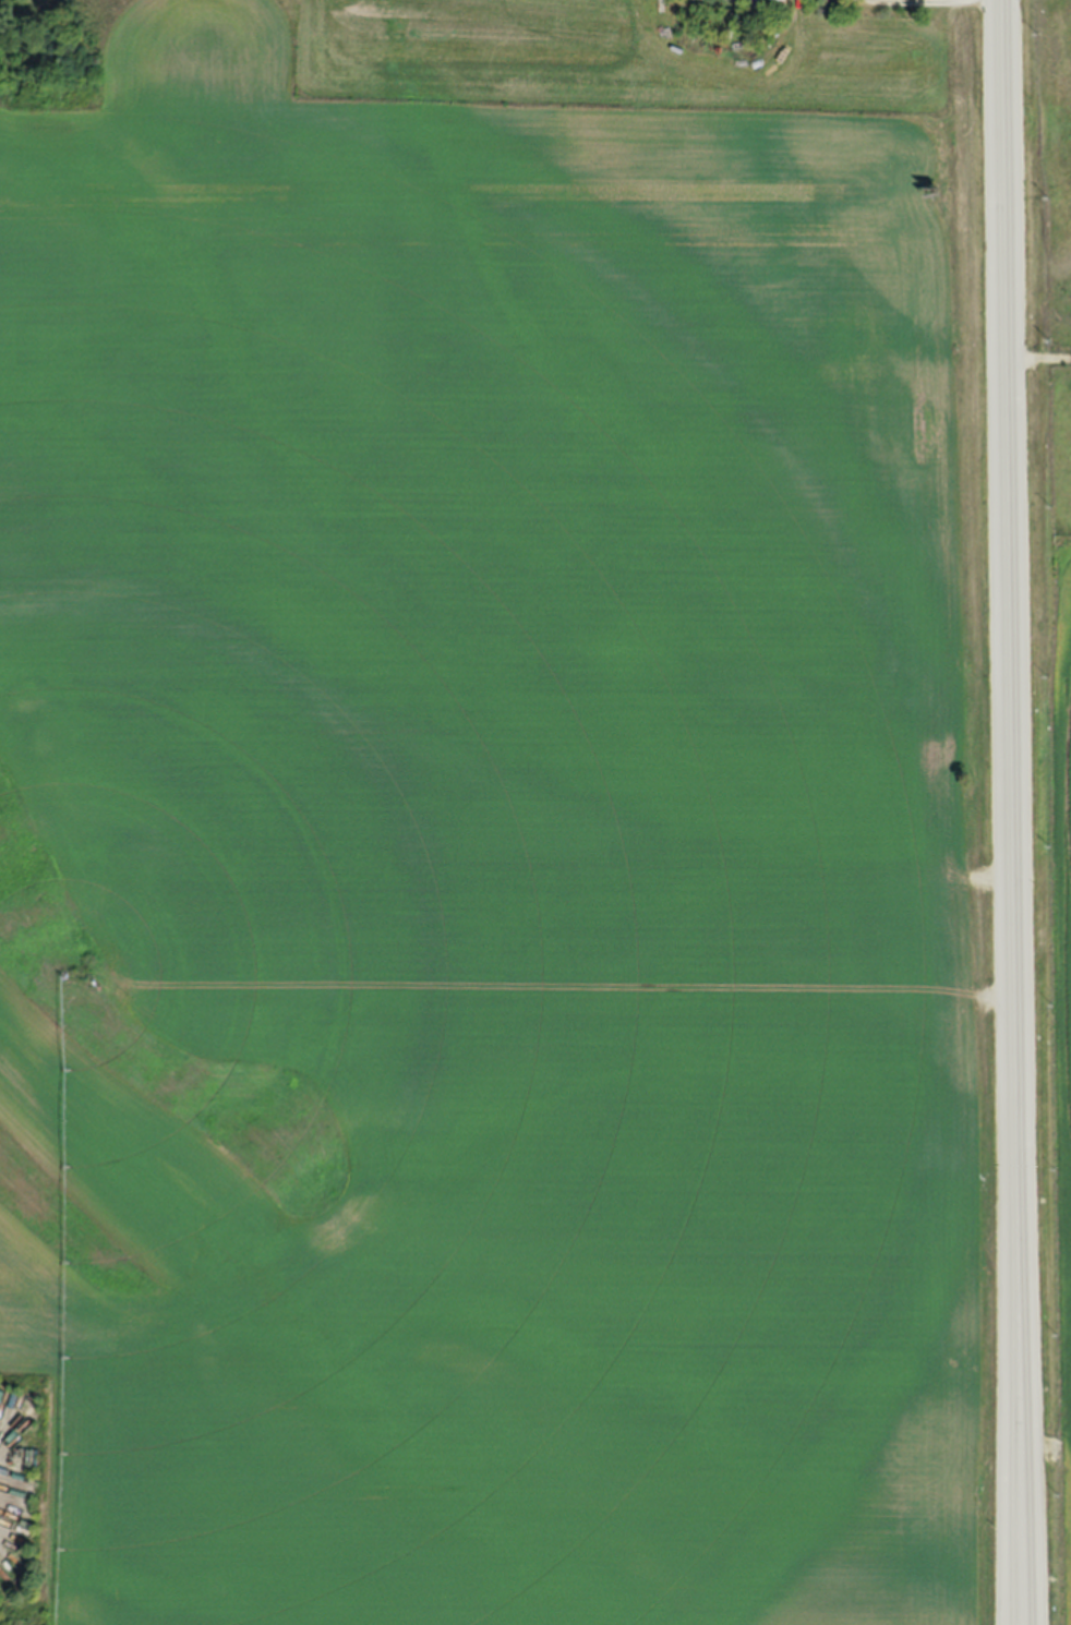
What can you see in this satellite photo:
building: (777, 2)
road: (1023, 812)

